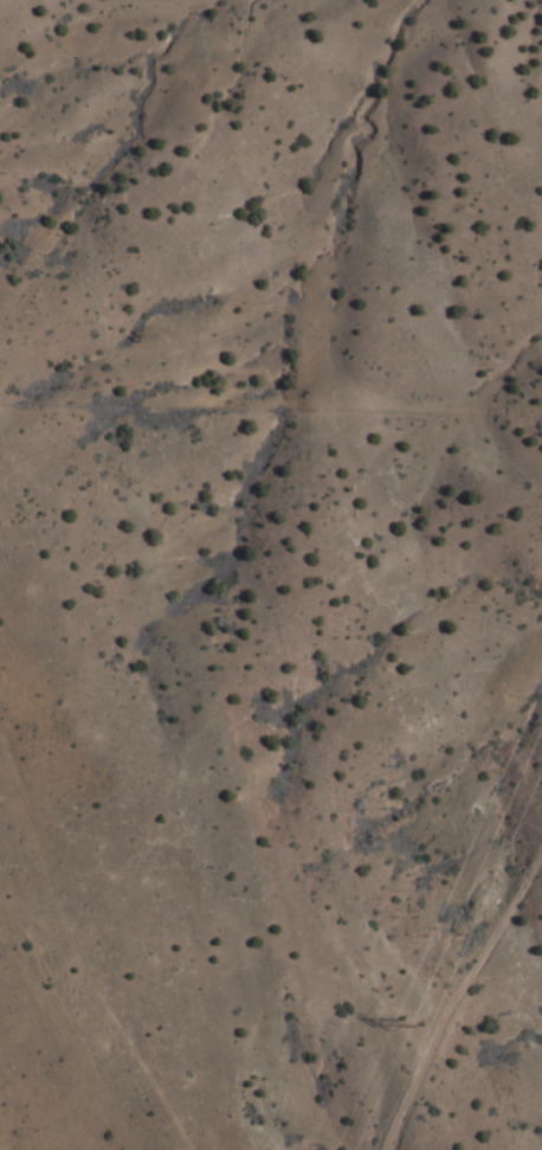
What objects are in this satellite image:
road: (451, 985)
power tower: (409, 1023)

